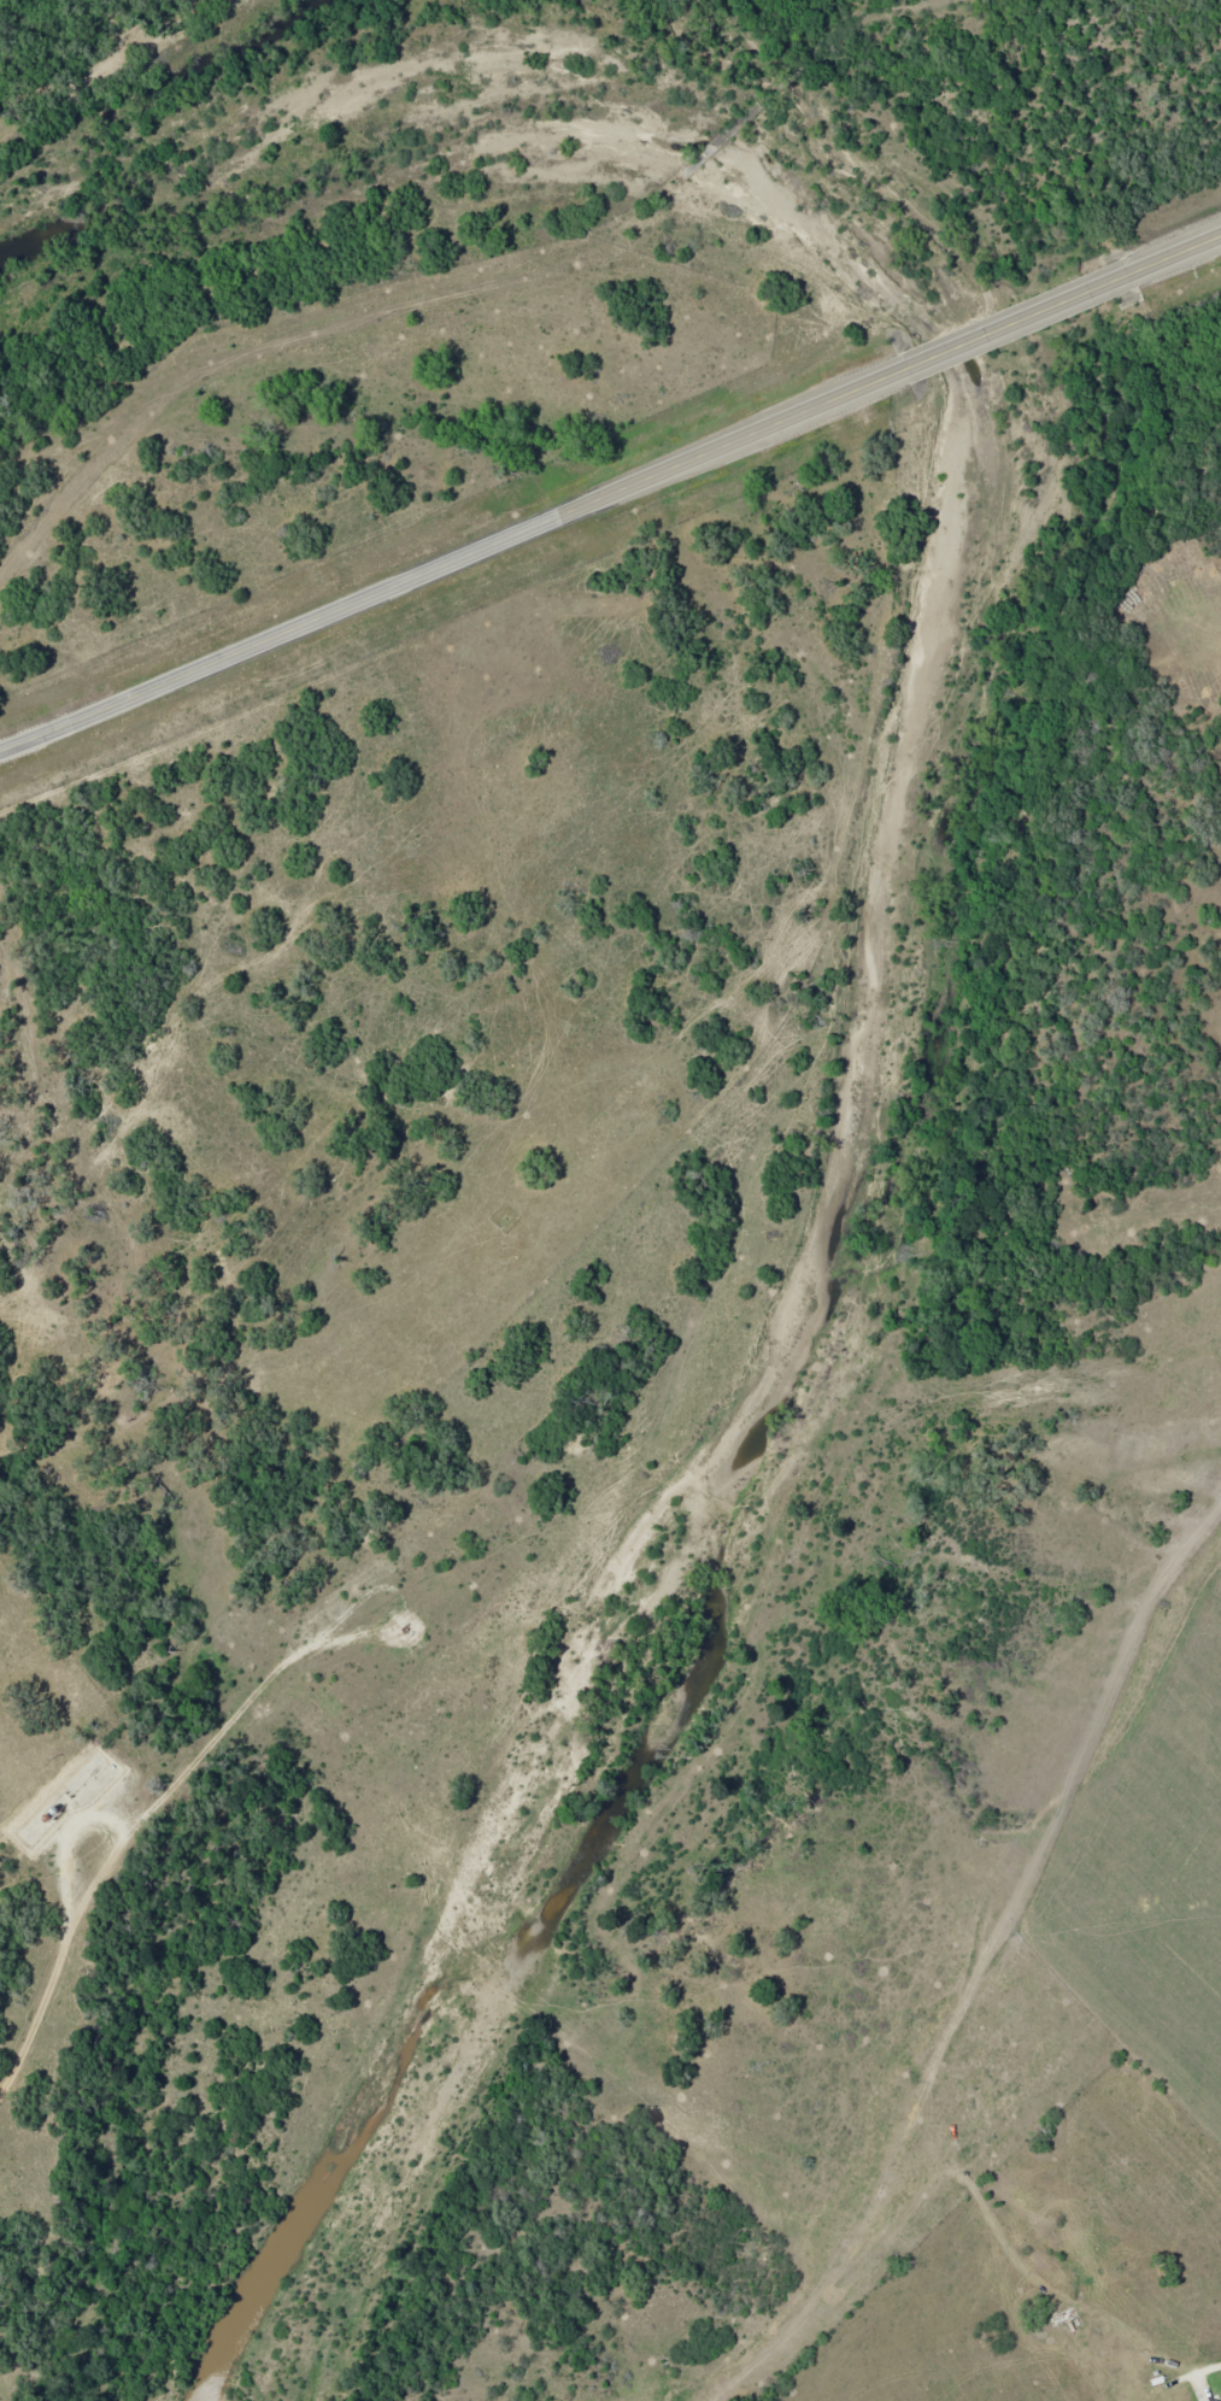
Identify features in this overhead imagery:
road: (1176, 248)
road: (1019, 315)
road: (452, 554)
building: (1067, 2319)
road: (1208, 2364)

